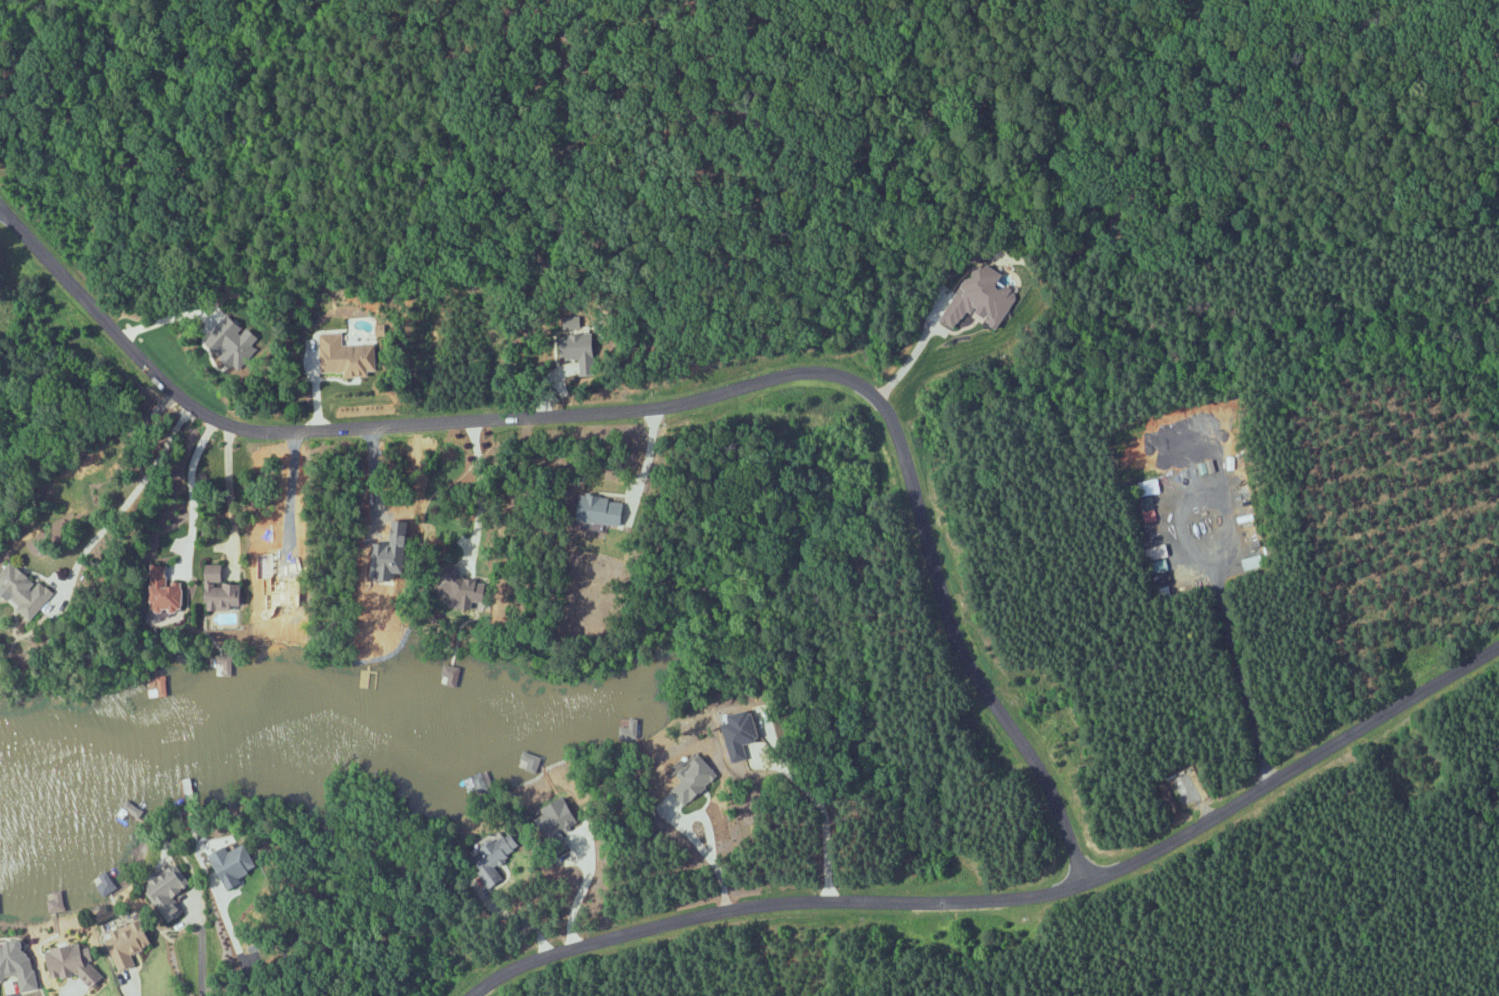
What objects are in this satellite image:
road: (0, 206)
building: (981, 298)
building: (234, 342)
building: (579, 346)
building: (348, 356)
road: (665, 407)
building: (1146, 487)
road: (130, 499)
building: (1146, 508)
building: (605, 510)
building: (1152, 552)
building: (1156, 565)
building: (24, 590)
building: (222, 590)
building: (470, 590)
building: (168, 592)
building: (451, 675)
building: (163, 685)
building: (742, 734)
building: (529, 763)
building: (694, 782)
building: (559, 817)
road: (707, 826)
building: (497, 857)
building: (235, 864)
building: (104, 883)
road: (582, 889)
building: (169, 892)
road: (1010, 900)
building: (57, 901)
building: (0, 913)
road: (517, 917)
building: (128, 943)
building: (70, 964)
building: (18, 966)
road: (127, 985)
road: (13, 990)

